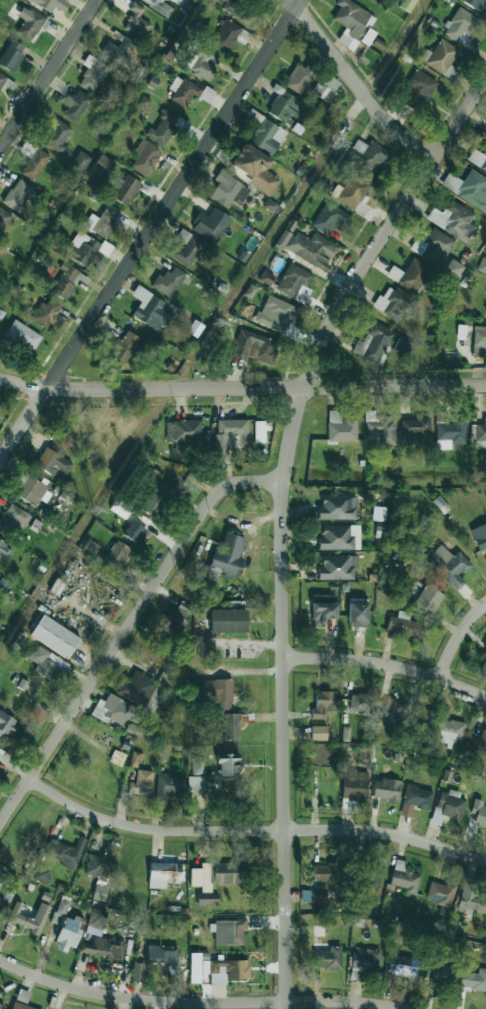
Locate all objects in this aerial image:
building: (51, 4)
building: (158, 5)
building: (408, 5)
building: (477, 5)
building: (232, 7)
building: (136, 21)
building: (29, 23)
building: (353, 24)
building: (461, 26)
building: (225, 35)
building: (116, 50)
building: (12, 55)
building: (441, 56)
building: (200, 64)
building: (92, 73)
road: (46, 74)
building: (298, 78)
building: (2, 79)
road: (356, 83)
building: (420, 84)
building: (325, 85)
building: (183, 91)
building: (144, 101)
building: (76, 106)
building: (285, 107)
building: (163, 127)
building: (57, 136)
building: (266, 136)
power tower: (327, 147)
building: (367, 155)
building: (145, 156)
building: (478, 158)
building: (80, 161)
building: (35, 164)
building: (103, 165)
building: (255, 168)
building: (468, 188)
building: (126, 190)
building: (228, 190)
building: (350, 192)
road: (173, 193)
building: (18, 195)
building: (330, 218)
building: (4, 219)
building: (453, 220)
building: (102, 221)
building: (210, 224)
building: (433, 246)
building: (187, 247)
building: (306, 248)
building: (87, 249)
building: (482, 265)
building: (453, 268)
building: (412, 275)
building: (167, 276)
building: (266, 278)
building: (66, 281)
building: (295, 283)
building: (392, 303)
building: (485, 309)
building: (151, 310)
building: (46, 312)
building: (275, 314)
power tower: (214, 322)
building: (22, 335)
building: (479, 341)
building: (374, 343)
building: (404, 346)
building: (124, 347)
building: (255, 347)
road: (24, 382)
road: (267, 386)
road: (24, 425)
building: (340, 427)
building: (380, 428)
building: (416, 430)
building: (183, 431)
building: (260, 432)
building: (481, 432)
building: (450, 434)
building: (229, 437)
building: (54, 461)
building: (33, 491)
building: (157, 498)
building: (337, 507)
building: (120, 508)
power tower: (92, 510)
road: (283, 516)
building: (13, 518)
building: (135, 532)
building: (339, 537)
building: (482, 538)
building: (90, 547)
building: (5, 549)
building: (117, 555)
building: (227, 556)
building: (448, 564)
building: (337, 567)
building: (428, 598)
building: (323, 608)
road: (88, 611)
building: (357, 613)
building: (178, 617)
building: (228, 621)
building: (403, 626)
road: (126, 630)
road: (457, 635)
building: (54, 636)
road: (246, 643)
building: (483, 662)
building: (48, 664)
road: (387, 664)
building: (144, 690)
building: (323, 703)
building: (359, 703)
building: (223, 706)
building: (115, 710)
building: (388, 712)
building: (422, 719)
building: (5, 722)
building: (137, 731)
building: (449, 731)
building: (318, 733)
building: (478, 743)
building: (364, 753)
building: (134, 759)
building: (228, 764)
building: (198, 765)
building: (141, 782)
building: (196, 783)
building: (354, 785)
building: (167, 787)
building: (387, 789)
building: (418, 797)
building: (451, 804)
building: (349, 806)
building: (479, 813)
road: (235, 830)
building: (66, 852)
building: (98, 866)
building: (225, 872)
building: (41, 874)
building: (163, 874)
building: (372, 876)
building: (404, 878)
building: (319, 880)
building: (203, 885)
building: (5, 888)
building: (99, 892)
building: (440, 893)
building: (472, 903)
building: (28, 917)
building: (96, 919)
building: (65, 928)
building: (228, 931)
building: (104, 948)
building: (162, 954)
building: (327, 956)
building: (364, 962)
building: (403, 966)
building: (439, 967)
building: (225, 970)
building: (138, 972)
building: (474, 979)
road: (198, 1001)
building: (1, 1005)
building: (20, 1006)

